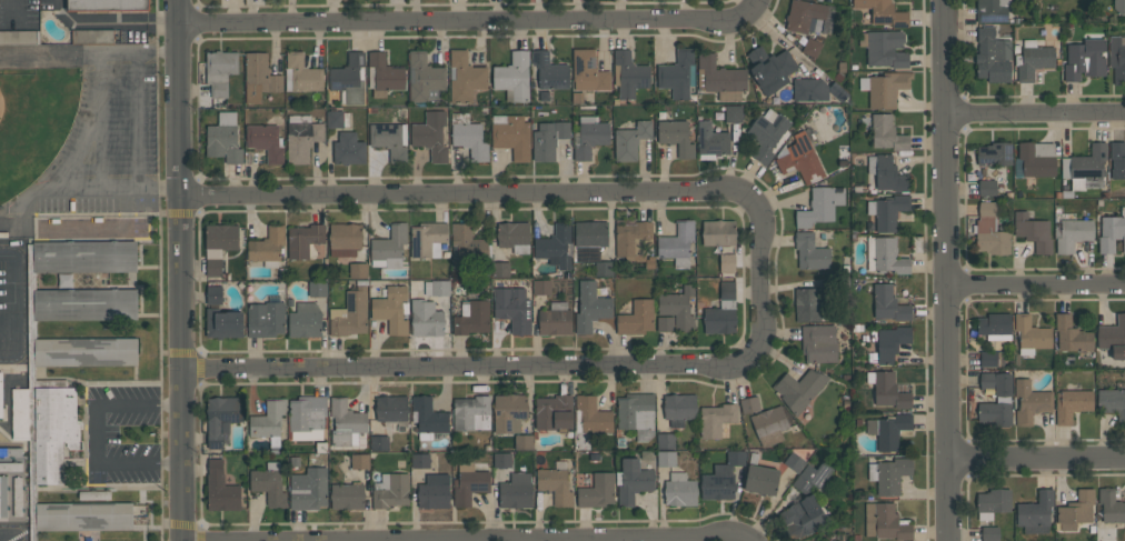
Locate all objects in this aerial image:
building: (107, 6)
building: (1119, 6)
building: (992, 10)
building: (884, 12)
building: (803, 14)
road: (477, 18)
road: (115, 22)
building: (93, 36)
building: (19, 37)
building: (812, 48)
building: (884, 48)
building: (993, 57)
building: (1117, 58)
building: (1033, 59)
building: (1084, 60)
building: (770, 69)
building: (220, 71)
building: (549, 71)
building: (588, 71)
building: (677, 73)
building: (301, 74)
building: (628, 74)
building: (384, 76)
building: (259, 77)
building: (514, 77)
building: (424, 78)
building: (465, 78)
building: (719, 78)
building: (349, 80)
building: (809, 89)
building: (887, 89)
road: (1034, 112)
building: (733, 114)
building: (337, 119)
road: (136, 120)
building: (767, 133)
building: (887, 133)
building: (430, 134)
building: (469, 137)
building: (511, 137)
building: (590, 137)
building: (676, 137)
building: (301, 138)
building: (223, 139)
building: (548, 139)
building: (389, 140)
building: (630, 140)
building: (713, 140)
building: (266, 141)
building: (349, 149)
building: (994, 153)
building: (800, 159)
building: (1037, 159)
building: (1117, 160)
building: (1086, 168)
building: (886, 173)
building: (987, 188)
building: (820, 206)
building: (888, 211)
building: (989, 230)
building: (1033, 231)
building: (718, 232)
building: (1112, 232)
building: (1072, 233)
building: (514, 236)
building: (344, 239)
building: (428, 239)
building: (589, 239)
building: (633, 239)
building: (220, 240)
building: (303, 240)
building: (677, 244)
building: (555, 246)
building: (267, 247)
building: (389, 247)
building: (466, 247)
building: (810, 252)
building: (84, 256)
building: (885, 256)
building: (727, 262)
building: (213, 268)
building: (604, 268)
road: (186, 270)
building: (357, 270)
building: (500, 270)
road: (948, 270)
road: (758, 277)
building: (64, 280)
road: (1037, 283)
building: (541, 287)
building: (436, 288)
building: (317, 289)
building: (215, 295)
building: (888, 303)
building: (84, 304)
building: (807, 304)
building: (590, 307)
building: (512, 308)
building: (678, 308)
building: (392, 309)
building: (721, 311)
building: (350, 314)
building: (426, 318)
building: (471, 318)
building: (637, 318)
building: (266, 319)
building: (555, 319)
building: (305, 320)
building: (223, 323)
building: (665, 323)
building: (994, 327)
building: (1031, 334)
building: (1071, 334)
building: (1113, 337)
building: (818, 343)
building: (890, 343)
building: (84, 351)
building: (988, 358)
building: (996, 382)
building: (799, 389)
building: (887, 390)
building: (0, 394)
building: (1029, 402)
building: (1112, 402)
building: (1072, 404)
building: (749, 405)
road: (140, 407)
building: (391, 408)
building: (679, 409)
building: (471, 412)
building: (509, 412)
building: (554, 413)
building: (994, 413)
building: (637, 414)
building: (590, 415)
building: (428, 417)
building: (221, 418)
building: (307, 418)
building: (716, 419)
building: (269, 421)
building: (346, 422)
building: (769, 425)
building: (47, 427)
building: (888, 430)
road: (94, 435)
building: (666, 441)
building: (379, 442)
building: (522, 442)
building: (11, 452)
road: (1037, 457)
building: (666, 459)
building: (420, 460)
building: (502, 460)
building: (359, 461)
building: (794, 462)
road: (140, 464)
building: (11, 467)
building: (888, 474)
building: (721, 477)
building: (812, 477)
building: (760, 480)
building: (633, 481)
building: (269, 483)
building: (469, 483)
building: (555, 483)
building: (220, 489)
building: (308, 489)
building: (390, 490)
building: (679, 490)
building: (435, 491)
building: (516, 491)
building: (597, 491)
building: (2, 495)
building: (17, 495)
building: (347, 497)
building: (993, 502)
building: (1111, 505)
building: (1076, 510)
building: (1035, 513)
building: (83, 517)
building: (804, 517)
building: (885, 522)
building: (989, 533)
road: (564, 538)

